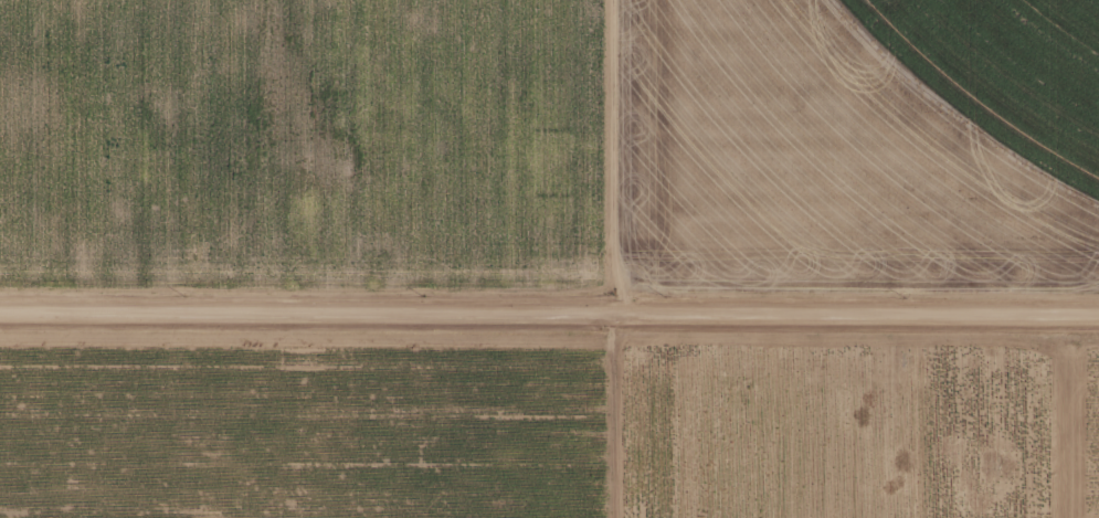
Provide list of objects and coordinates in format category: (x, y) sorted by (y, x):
road: (635, 258)
road: (549, 279)

